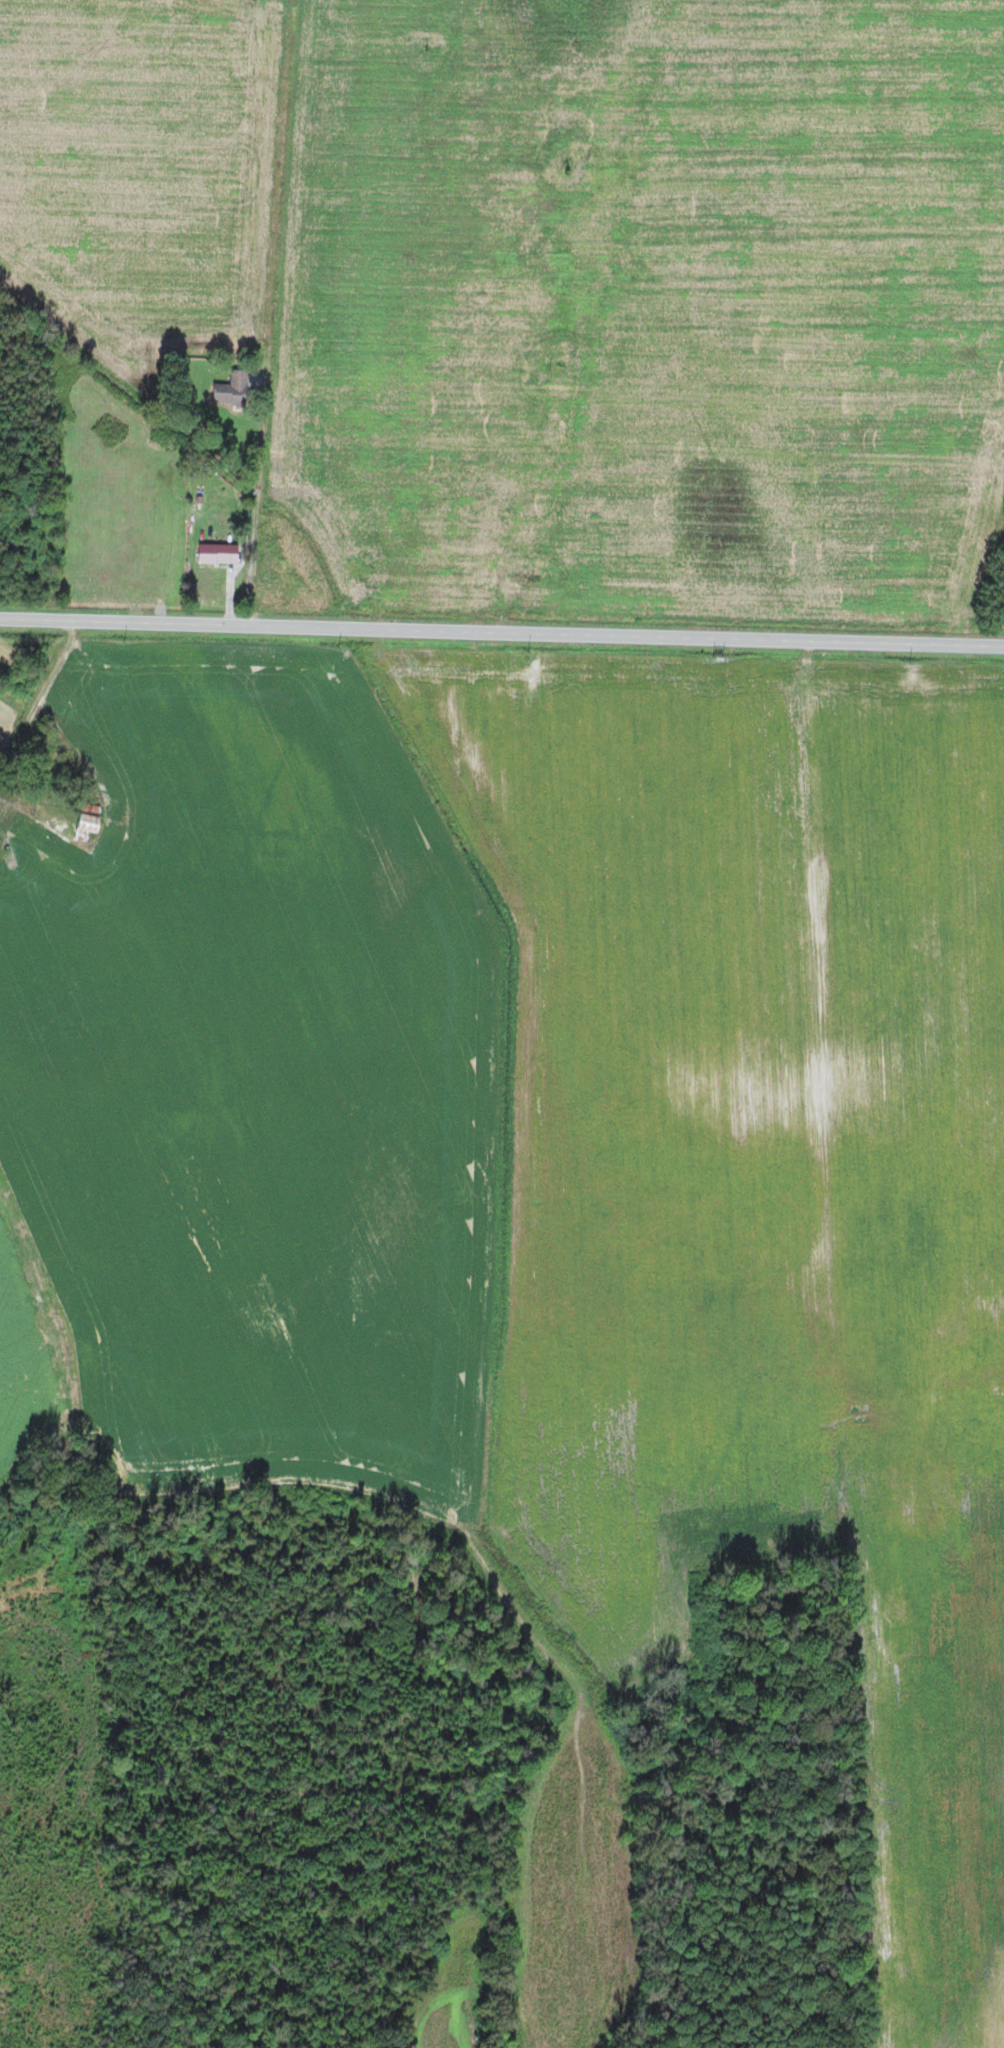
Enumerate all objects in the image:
building: (234, 388)
building: (220, 552)
road: (502, 631)

